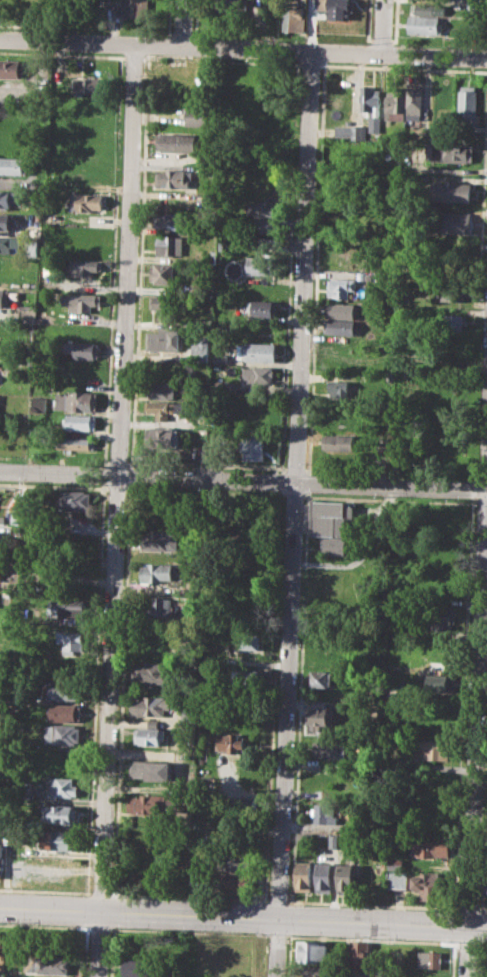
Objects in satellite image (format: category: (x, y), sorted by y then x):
building: (20, 4)
building: (235, 7)
building: (133, 8)
building: (336, 8)
building: (428, 9)
building: (294, 18)
road: (182, 23)
building: (426, 26)
road: (384, 28)
road: (243, 50)
building: (14, 69)
building: (90, 85)
building: (415, 101)
building: (369, 102)
building: (396, 102)
building: (468, 104)
building: (198, 116)
building: (344, 131)
building: (177, 141)
building: (451, 151)
building: (12, 165)
building: (174, 178)
building: (452, 192)
building: (7, 197)
building: (85, 201)
road: (113, 201)
building: (264, 209)
building: (4, 220)
building: (167, 221)
building: (453, 221)
building: (264, 227)
building: (7, 241)
building: (172, 245)
building: (262, 265)
building: (80, 267)
building: (166, 272)
building: (340, 286)
building: (453, 291)
building: (3, 298)
building: (81, 301)
building: (164, 302)
building: (262, 308)
building: (340, 309)
building: (450, 323)
building: (339, 327)
building: (82, 331)
building: (163, 340)
building: (80, 349)
building: (199, 349)
building: (257, 352)
building: (219, 358)
building: (258, 374)
building: (223, 386)
building: (340, 387)
building: (163, 390)
building: (75, 401)
building: (38, 403)
building: (162, 409)
building: (78, 422)
building: (165, 437)
building: (336, 441)
building: (75, 443)
building: (253, 448)
road: (104, 475)
road: (243, 480)
road: (53, 486)
road: (115, 488)
building: (76, 500)
road: (118, 511)
road: (293, 515)
building: (331, 517)
building: (16, 529)
building: (161, 540)
building: (336, 546)
building: (157, 572)
building: (442, 582)
building: (162, 606)
building: (70, 609)
building: (442, 617)
building: (70, 640)
building: (248, 641)
building: (154, 672)
building: (244, 677)
building: (320, 679)
building: (440, 683)
road: (94, 688)
building: (65, 689)
road: (121, 689)
building: (154, 705)
building: (65, 712)
building: (319, 716)
road: (477, 724)
building: (63, 733)
building: (150, 735)
building: (229, 741)
building: (327, 749)
building: (433, 749)
building: (149, 768)
building: (63, 787)
building: (147, 804)
building: (59, 813)
building: (328, 813)
building: (304, 836)
building: (59, 839)
building: (333, 841)
building: (432, 847)
building: (2, 859)
building: (233, 861)
building: (396, 864)
building: (304, 876)
building: (325, 877)
building: (346, 878)
building: (398, 879)
building: (235, 883)
building: (486, 885)
street lamp: (111, 886)
building: (428, 886)
road: (45, 890)
road: (100, 893)
road: (189, 896)
street lamp: (288, 898)
road: (277, 901)
road: (373, 904)
street lamp: (458, 905)
road: (468, 908)
road: (482, 909)
road: (243, 917)
street lamp: (7, 923)
road: (44, 926)
street lamp: (121, 927)
road: (98, 928)
street lamp: (186, 930)
road: (187, 932)
street lamp: (260, 933)
road: (275, 935)
street lamp: (294, 935)
street lamp: (373, 938)
road: (371, 939)
street lamp: (450, 941)
road: (466, 943)
street lamp: (482, 943)
street lamp: (285, 944)
road: (482, 944)
street lamp: (475, 949)
building: (312, 951)
building: (359, 956)
building: (430, 958)
building: (49, 963)
building: (138, 967)
building: (311, 971)

